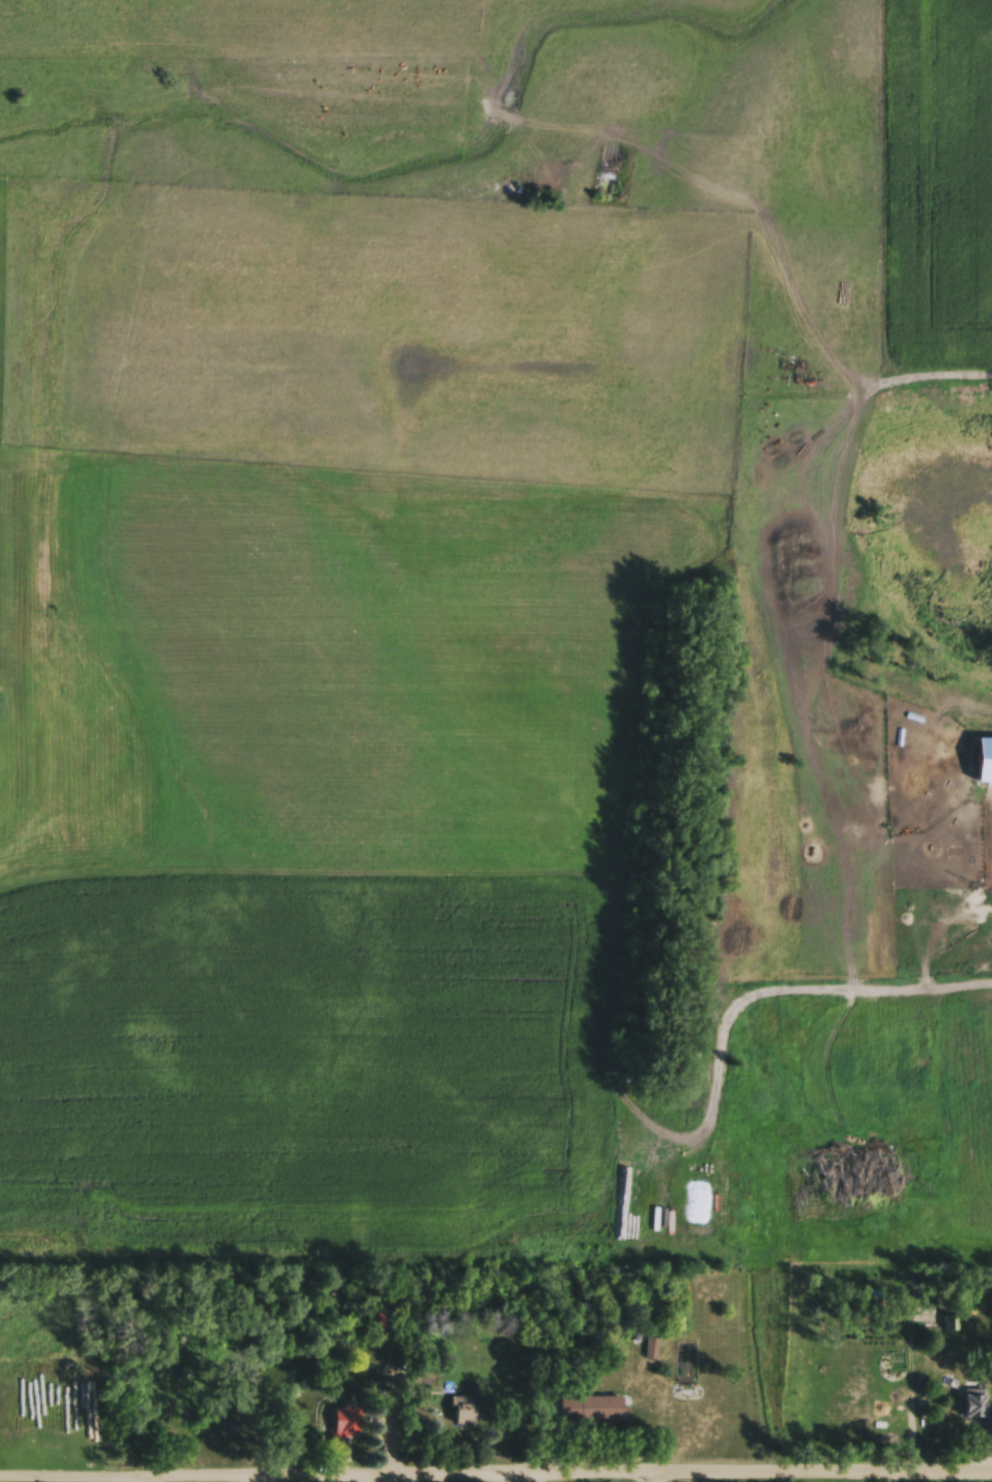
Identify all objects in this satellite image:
building: (773, 576)
building: (981, 775)
road: (615, 880)
building: (942, 1110)
building: (949, 1325)
road: (906, 1403)
road: (390, 1405)
building: (467, 1412)
building: (979, 1412)
building: (345, 1421)
building: (227, 1429)
road: (585, 1475)
road: (651, 1478)

